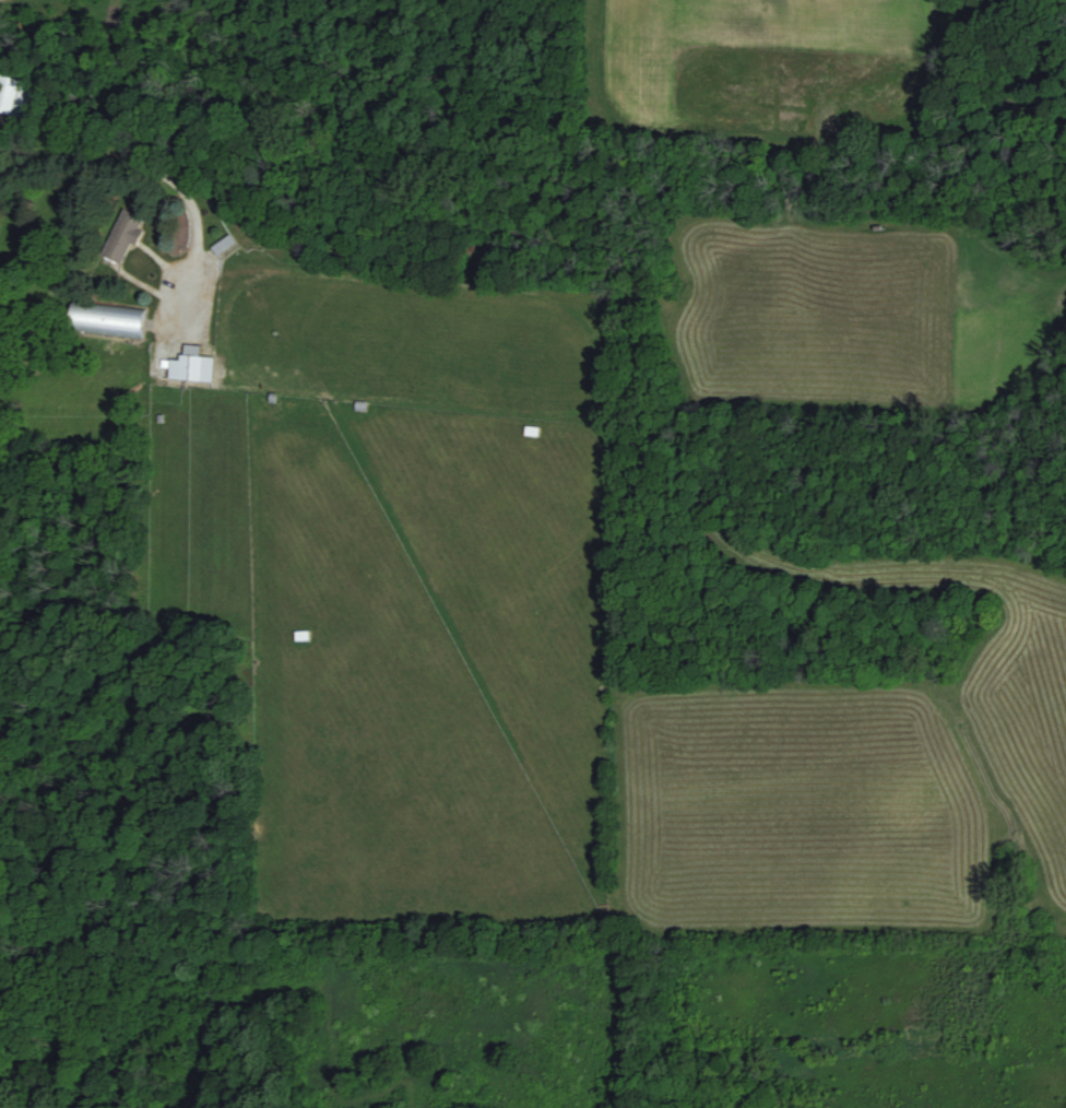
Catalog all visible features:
building: (13, 94)
building: (122, 235)
building: (223, 244)
road: (202, 251)
building: (106, 319)
road: (620, 363)
building: (190, 365)

